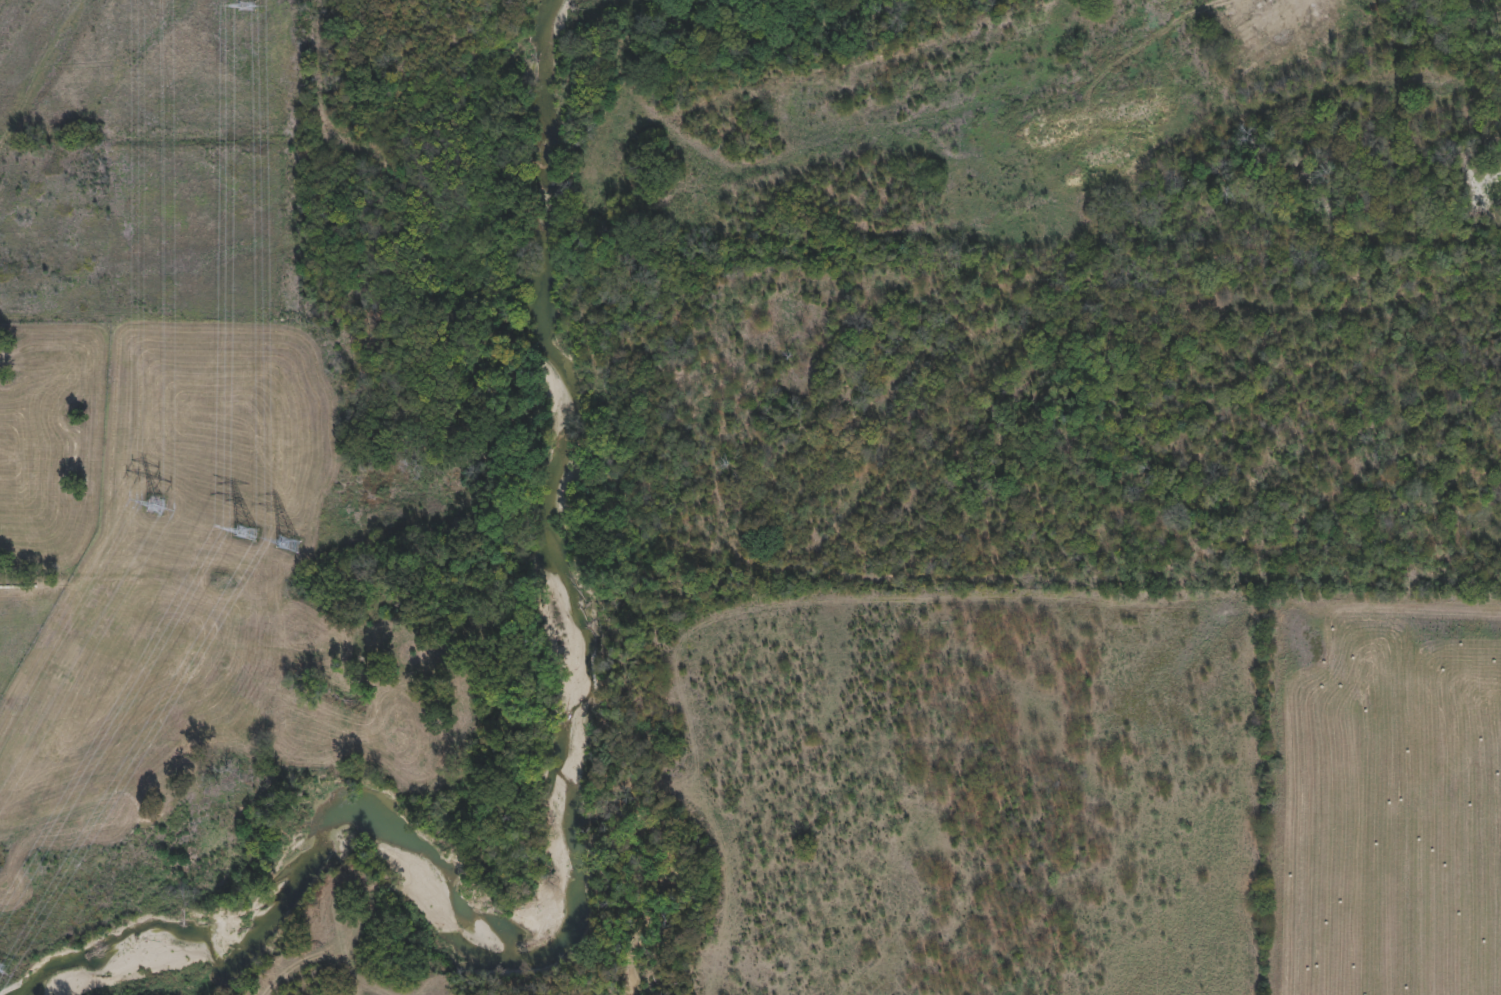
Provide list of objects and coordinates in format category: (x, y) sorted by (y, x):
power tower: (246, 6)
power tower: (157, 504)
power tower: (249, 531)
power tower: (0, 962)

